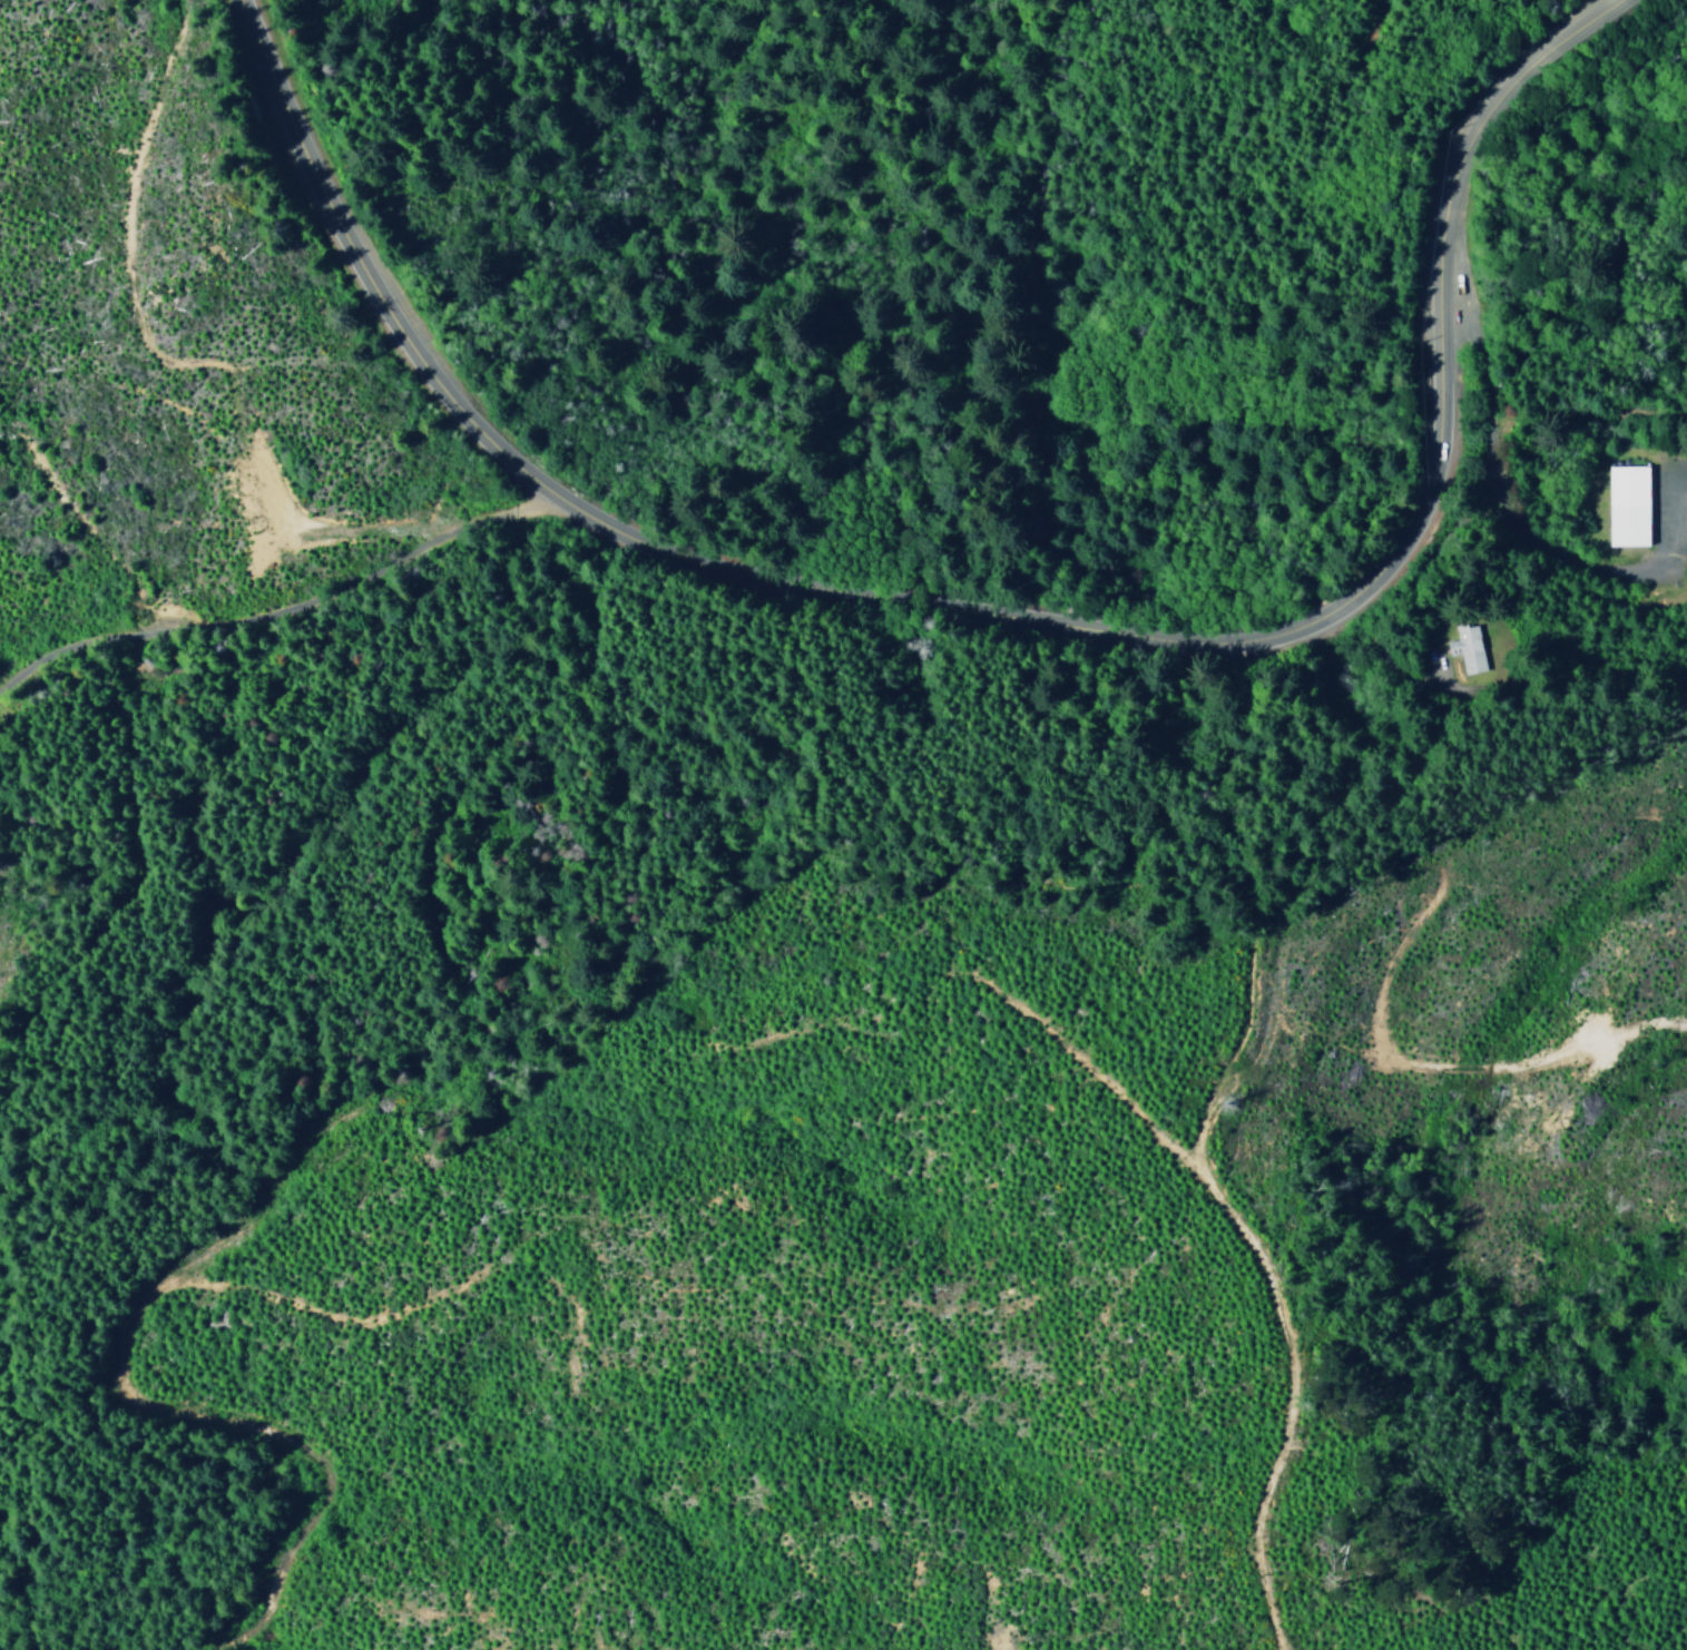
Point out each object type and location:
building: (1629, 504)
road: (274, 611)
road: (994, 622)
building: (1468, 647)
road: (1291, 1394)

